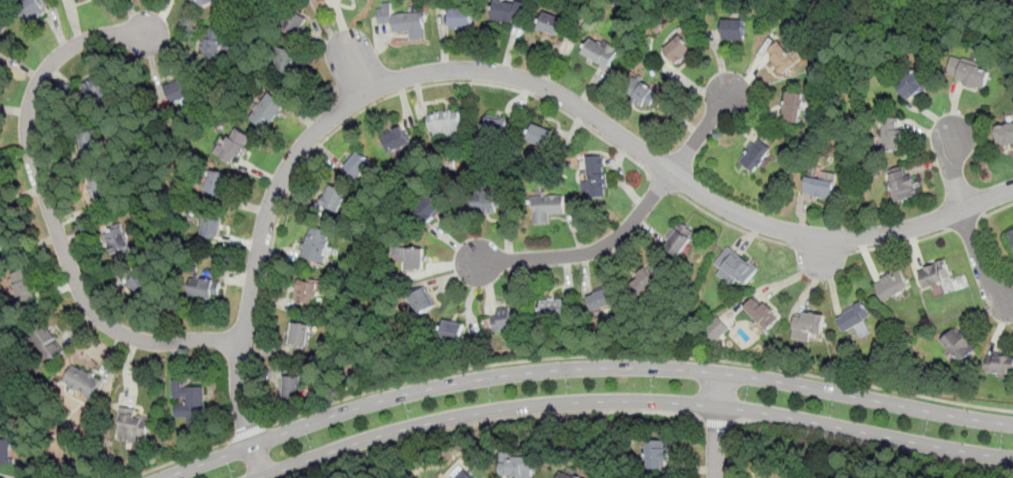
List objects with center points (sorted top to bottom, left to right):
building: (203, 3)
building: (32, 10)
building: (502, 14)
building: (461, 19)
building: (295, 22)
building: (411, 24)
building: (551, 24)
building: (733, 30)
building: (2, 33)
building: (676, 35)
building: (212, 44)
building: (679, 50)
building: (596, 51)
building: (782, 58)
building: (287, 61)
road: (500, 73)
building: (972, 76)
building: (913, 84)
building: (98, 91)
building: (178, 91)
building: (636, 95)
building: (792, 107)
building: (267, 110)
road: (350, 119)
building: (444, 122)
building: (496, 127)
road: (701, 134)
building: (1005, 134)
building: (891, 135)
building: (88, 136)
building: (541, 136)
building: (397, 140)
building: (237, 145)
building: (755, 155)
building: (359, 165)
road: (954, 173)
building: (218, 183)
road: (660, 183)
building: (902, 184)
building: (594, 185)
building: (819, 188)
building: (103, 189)
building: (334, 198)
building: (485, 203)
building: (547, 208)
road: (996, 209)
road: (51, 211)
building: (422, 213)
road: (965, 222)
road: (730, 223)
building: (213, 226)
building: (1011, 233)
building: (4, 240)
building: (118, 240)
building: (674, 243)
road: (901, 244)
building: (317, 245)
road: (821, 248)
road: (591, 251)
building: (415, 258)
road: (979, 261)
building: (734, 274)
building: (935, 274)
building: (646, 281)
building: (25, 285)
building: (143, 285)
building: (891, 285)
building: (205, 289)
building: (309, 293)
building: (602, 297)
building: (422, 300)
building: (552, 310)
building: (761, 313)
building: (854, 316)
building: (508, 319)
building: (758, 326)
building: (716, 329)
building: (452, 330)
building: (803, 330)
building: (302, 339)
building: (50, 344)
building: (959, 344)
road: (635, 356)
building: (1000, 364)
road: (582, 369)
building: (84, 382)
building: (293, 387)
road: (633, 402)
building: (189, 403)
road: (554, 416)
building: (1, 419)
road: (716, 422)
road: (716, 426)
building: (135, 429)
road: (246, 433)
road: (871, 445)
road: (727, 450)
building: (6, 453)
building: (653, 454)
road: (179, 458)
road: (352, 458)
building: (515, 466)
building: (460, 473)
building: (565, 476)
building: (577, 477)

